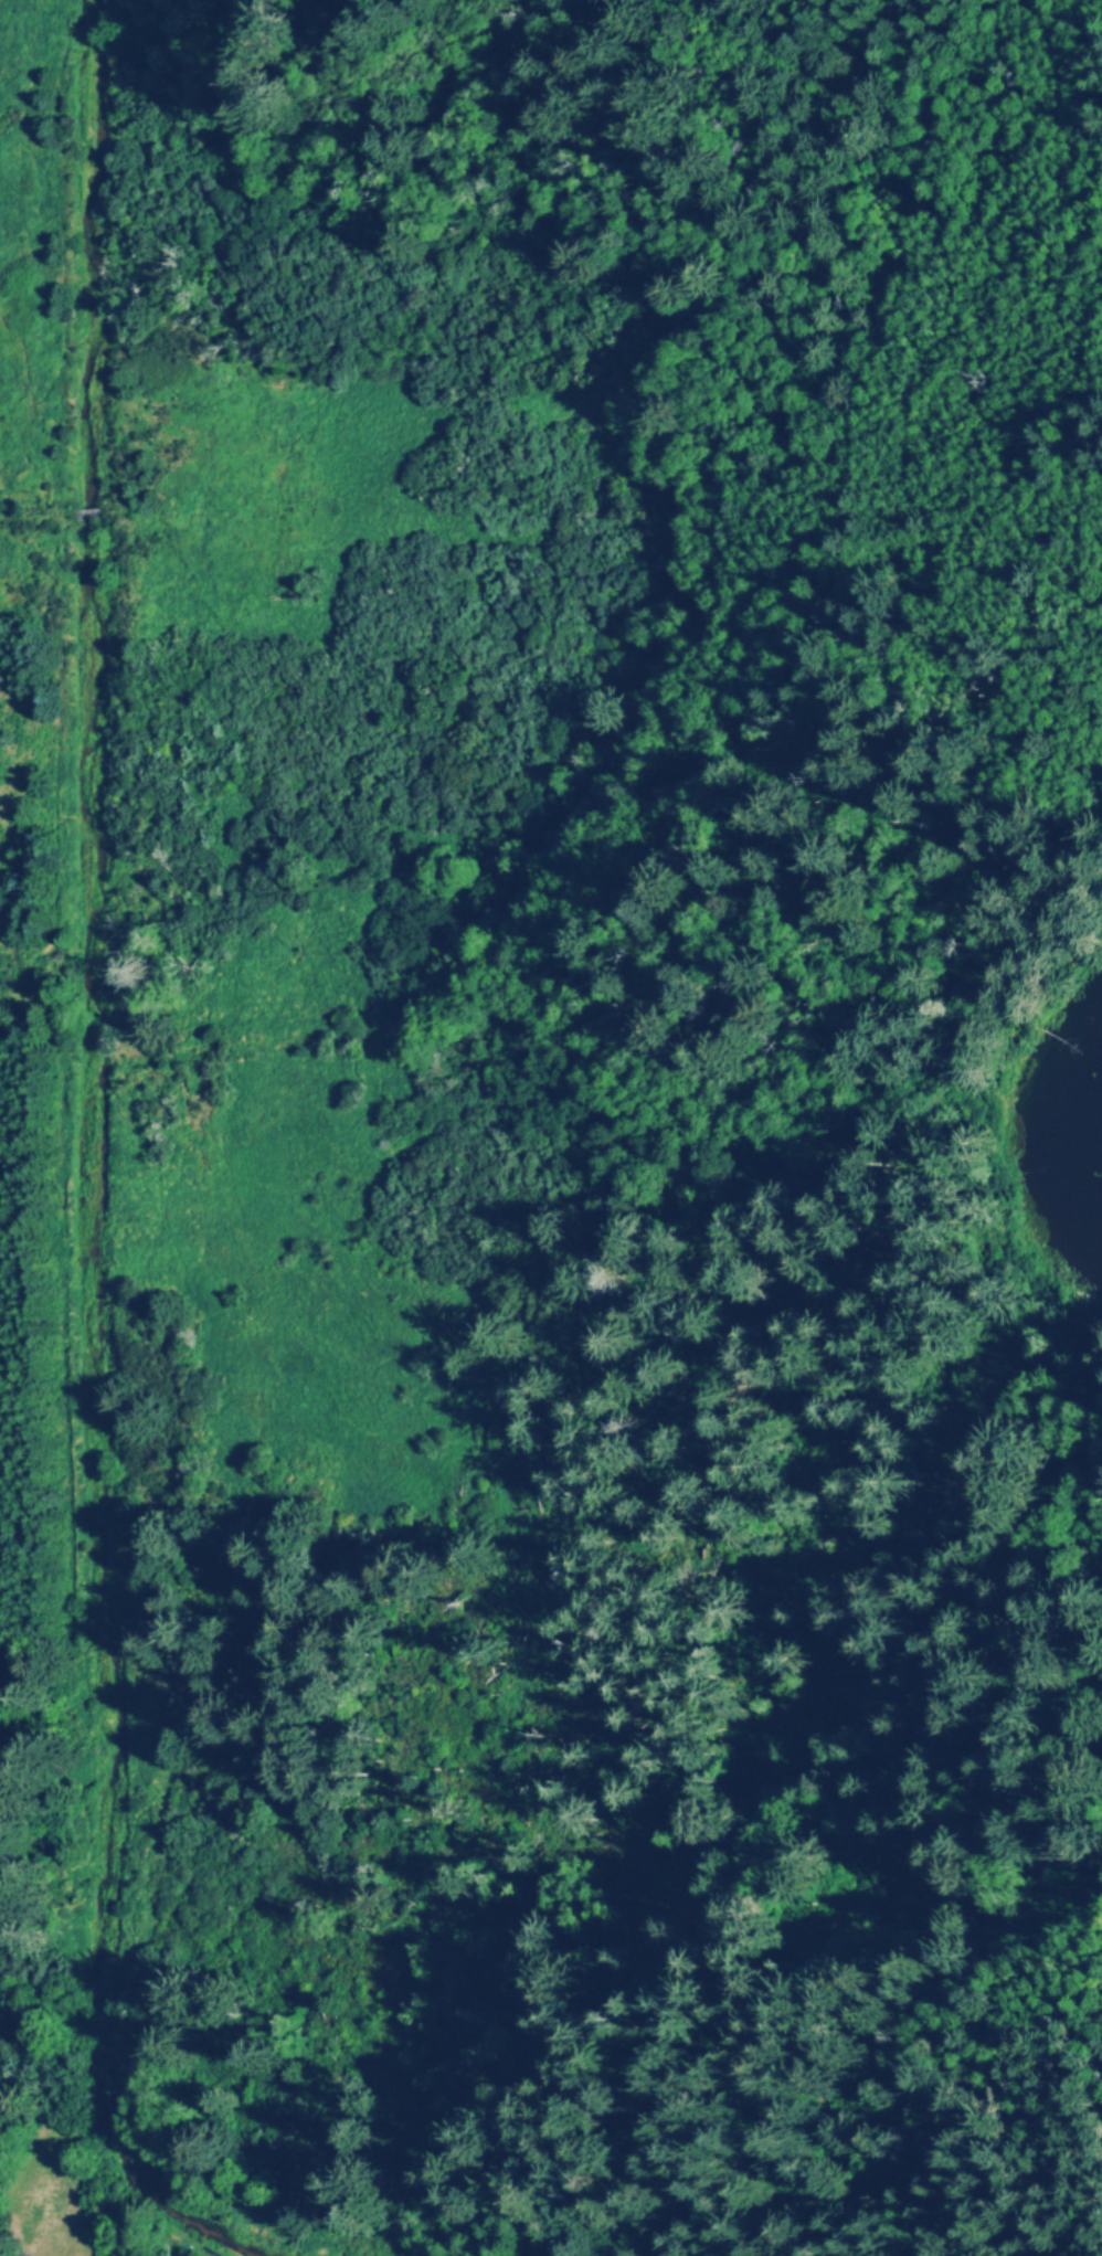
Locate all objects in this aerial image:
river: (93, 1168)
building: (65, 2245)

